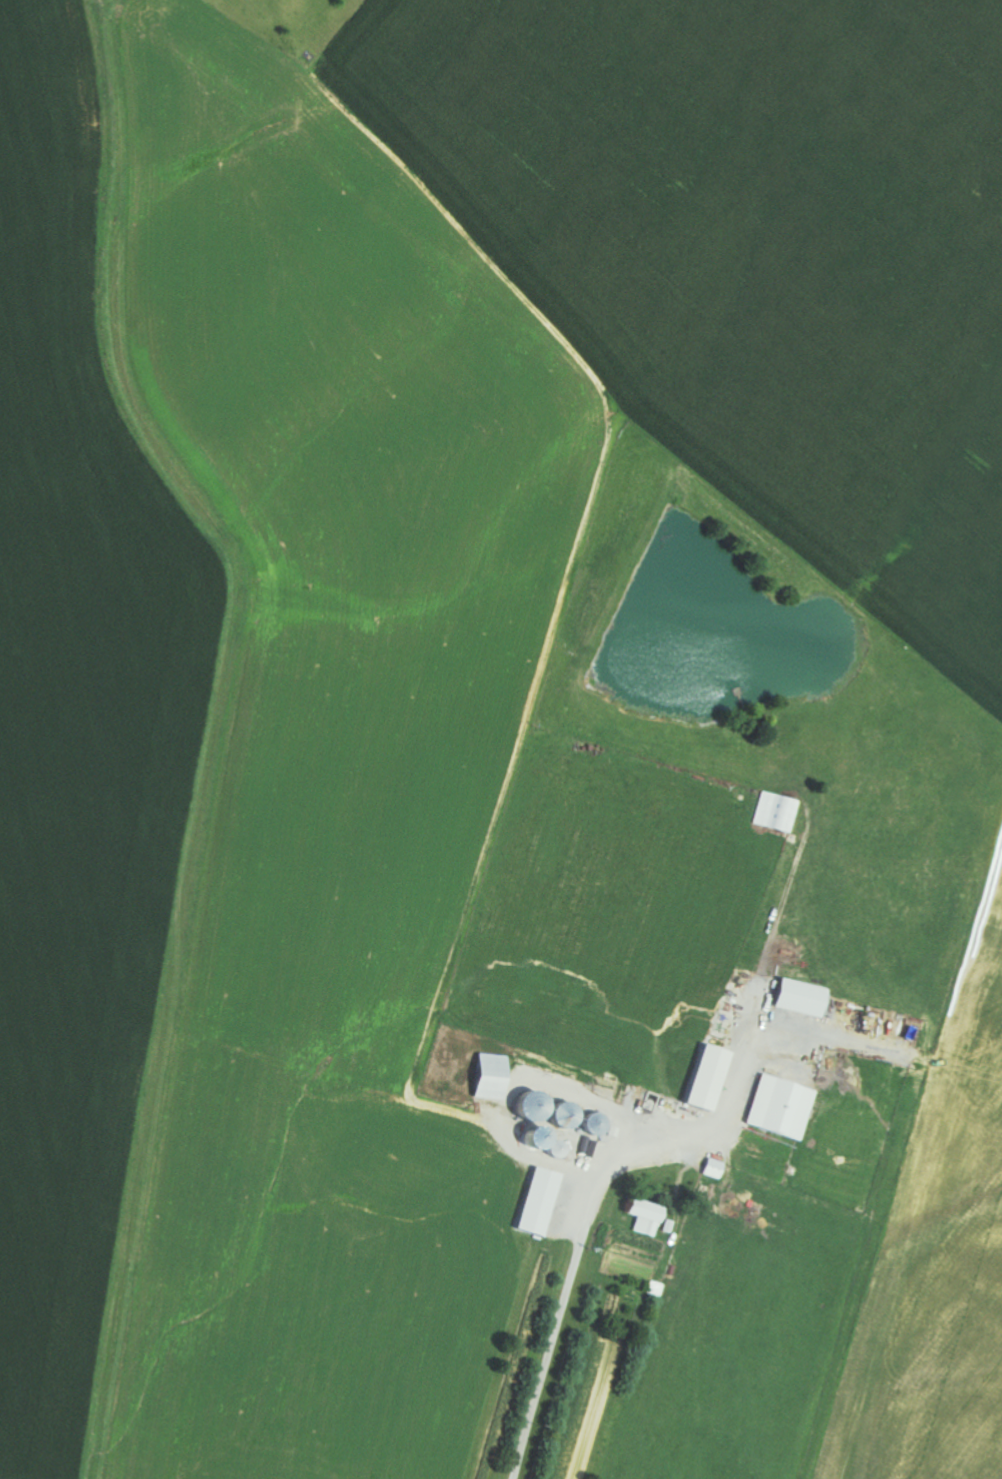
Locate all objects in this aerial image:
building: (775, 813)
building: (798, 997)
building: (490, 1076)
building: (706, 1078)
building: (779, 1107)
building: (712, 1168)
building: (538, 1202)
building: (643, 1216)
road: (558, 1317)

